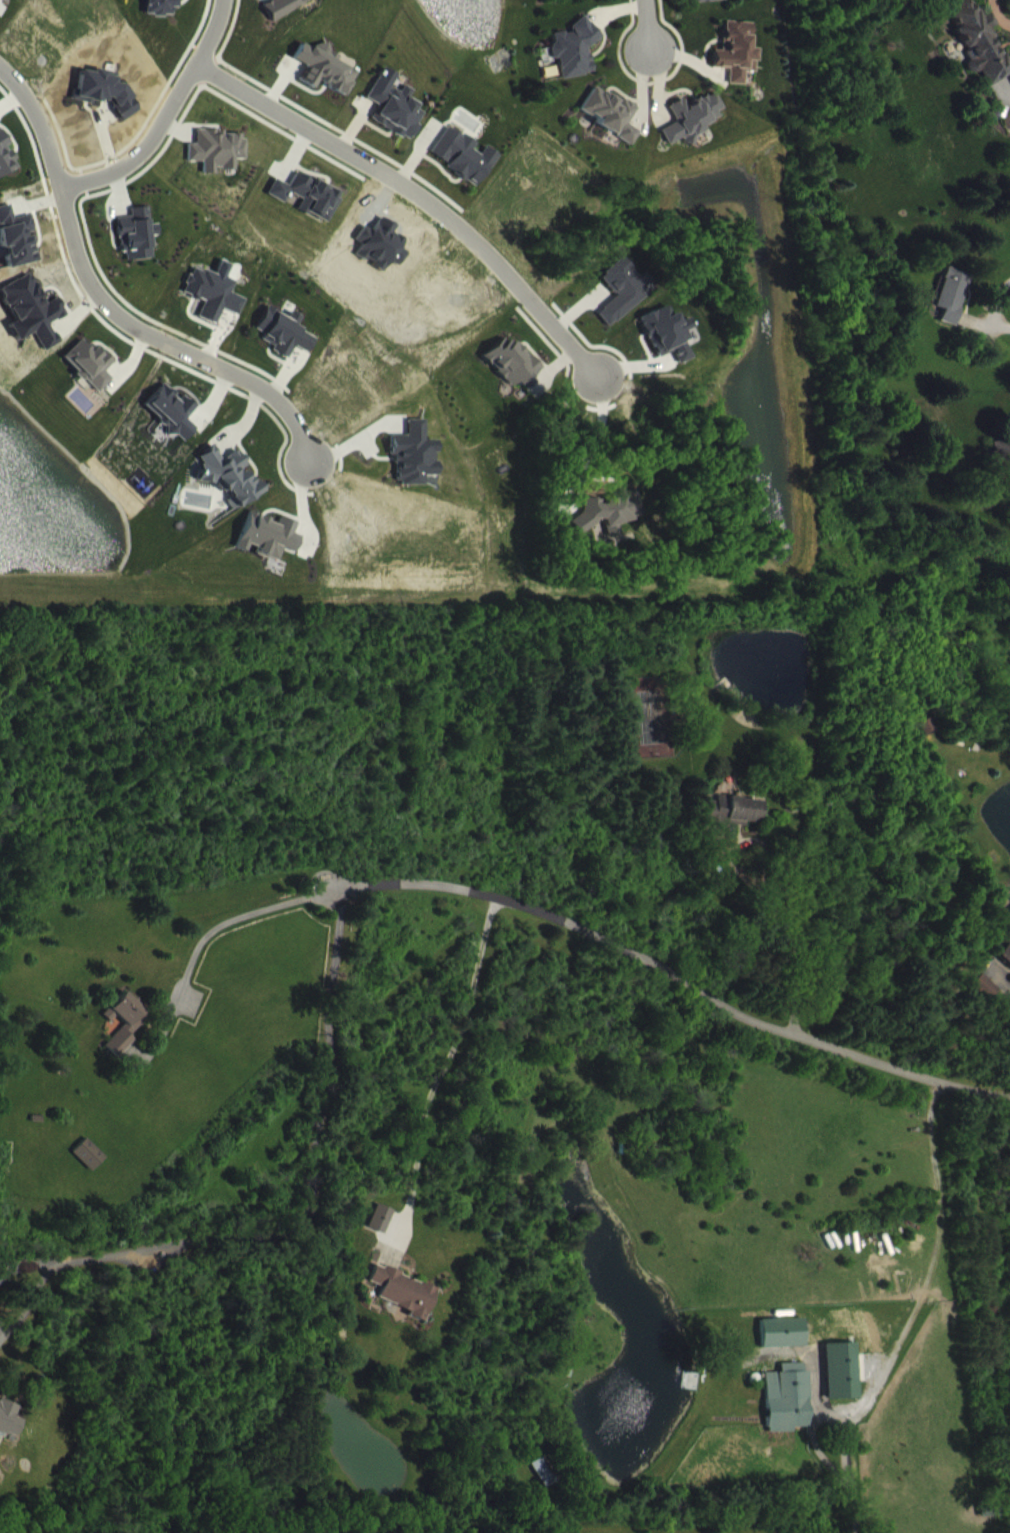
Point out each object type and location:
building: (575, 0)
building: (4, 5)
building: (707, 7)
building: (159, 13)
building: (287, 13)
road: (645, 24)
building: (978, 53)
building: (573, 61)
building: (734, 64)
building: (322, 81)
building: (92, 98)
road: (159, 115)
building: (393, 123)
building: (609, 126)
building: (689, 131)
building: (216, 163)
building: (462, 169)
building: (5, 170)
road: (416, 196)
building: (308, 208)
building: (136, 247)
building: (622, 303)
building: (214, 305)
building: (951, 307)
road: (113, 310)
road: (998, 323)
building: (284, 345)
building: (666, 346)
building: (512, 375)
building: (89, 377)
building: (171, 425)
building: (1001, 468)
building: (228, 489)
building: (620, 523)
building: (268, 549)
building: (731, 824)
road: (214, 923)
road: (782, 934)
building: (1006, 967)
road: (671, 970)
building: (987, 1000)
building: (125, 1035)
road: (441, 1065)
building: (89, 1167)
road: (295, 1219)
building: (380, 1231)
building: (403, 1304)
building: (783, 1345)
building: (842, 1383)
building: (788, 1411)
building: (9, 1431)
road: (845, 1472)
building: (547, 1483)

